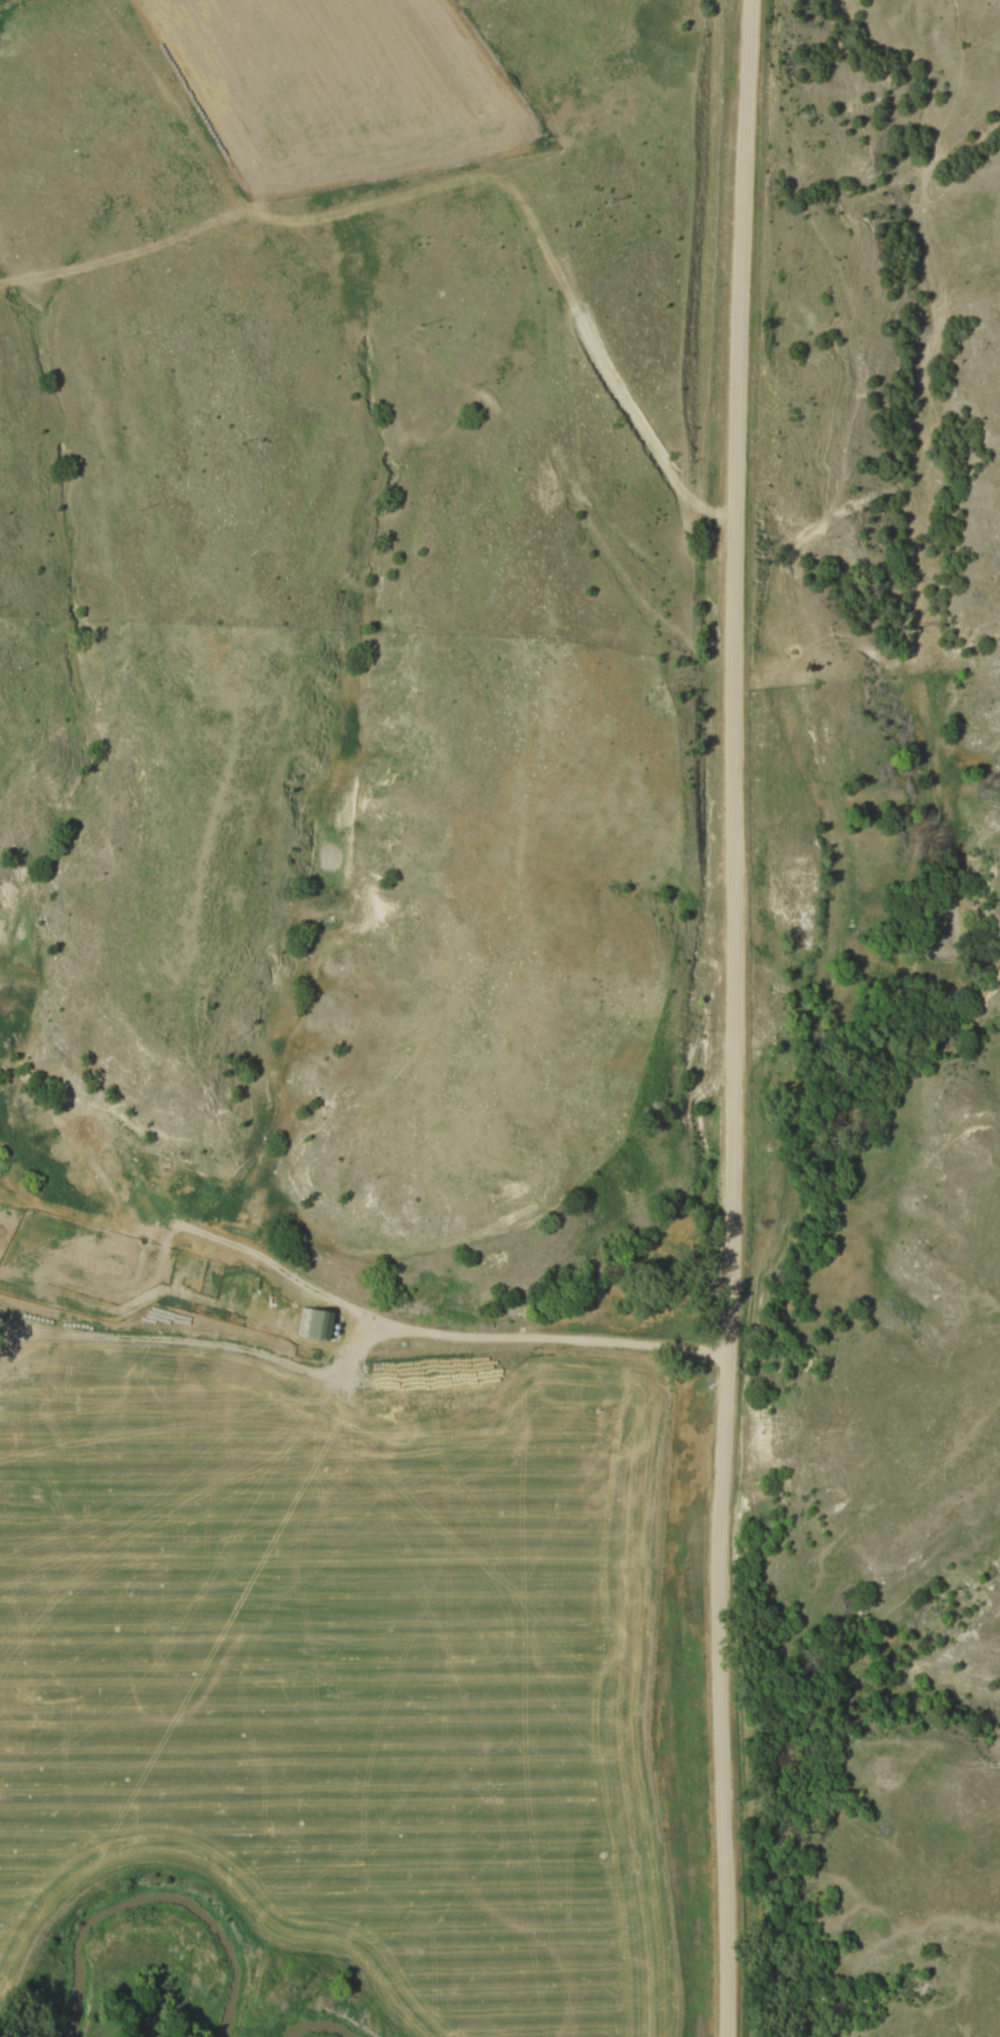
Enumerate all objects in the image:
road: (734, 1018)
building: (92, 1131)
building: (313, 1319)
road: (389, 1323)
crop: (386, 1685)

